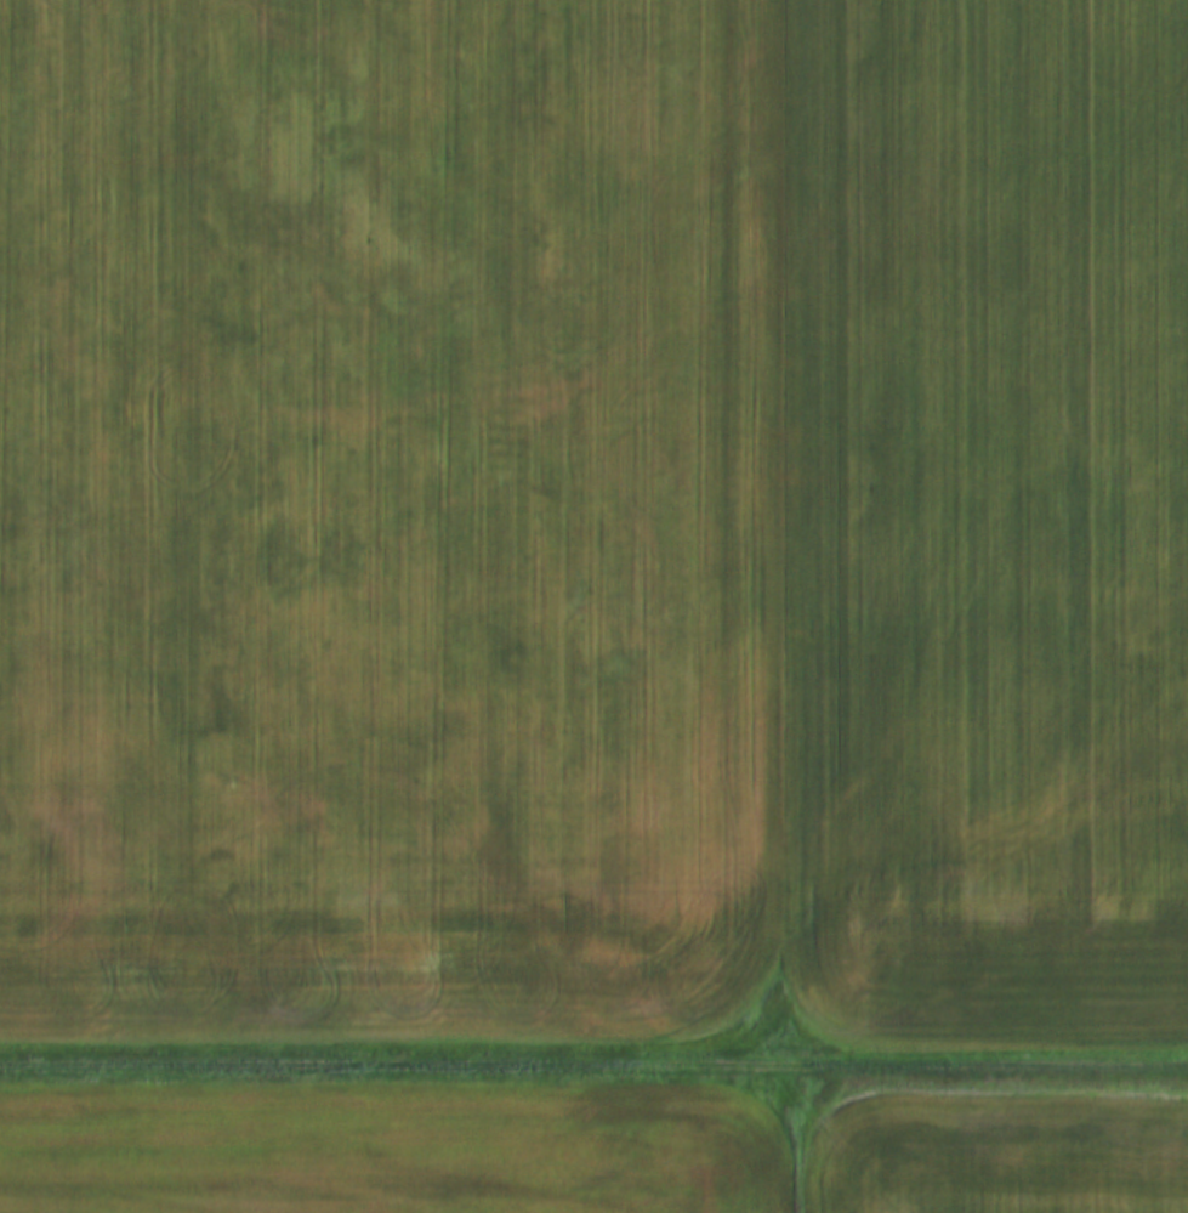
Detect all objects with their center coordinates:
road: (593, 1059)

